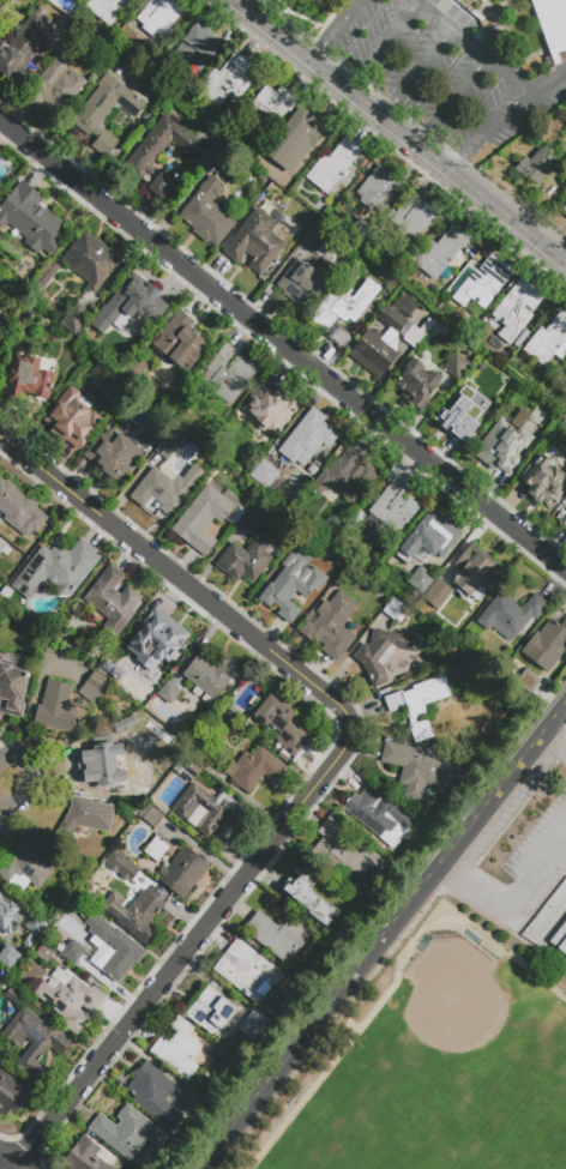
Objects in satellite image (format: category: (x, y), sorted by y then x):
building: (106, 8)
road: (347, 14)
building: (158, 16)
building: (552, 24)
road: (320, 42)
road: (472, 43)
road: (383, 44)
building: (199, 46)
building: (26, 48)
road: (415, 70)
parking lot: (444, 73)
building: (227, 80)
road: (543, 80)
building: (56, 82)
road: (452, 100)
building: (104, 110)
building: (265, 110)
road: (501, 115)
road: (405, 128)
building: (295, 139)
building: (215, 151)
building: (159, 153)
road: (465, 155)
building: (0, 158)
building: (537, 164)
building: (333, 165)
building: (564, 165)
building: (379, 188)
building: (564, 209)
building: (207, 215)
building: (415, 215)
building: (30, 218)
building: (360, 233)
building: (313, 240)
building: (254, 241)
building: (441, 254)
building: (91, 260)
building: (46, 275)
building: (483, 283)
building: (301, 284)
building: (128, 305)
building: (404, 305)
building: (343, 308)
building: (517, 308)
building: (4, 312)
building: (76, 319)
building: (525, 332)
building: (519, 341)
building: (549, 341)
building: (180, 342)
building: (386, 342)
road: (283, 348)
building: (454, 364)
building: (134, 370)
building: (227, 374)
building: (25, 380)
building: (415, 386)
building: (471, 402)
building: (271, 410)
building: (71, 418)
building: (564, 423)
building: (308, 438)
building: (505, 447)
building: (167, 450)
building: (114, 454)
building: (265, 474)
building: (347, 475)
road: (47, 477)
building: (543, 482)
building: (163, 488)
building: (395, 507)
building: (19, 510)
building: (207, 517)
building: (251, 520)
building: (564, 523)
building: (429, 537)
street lamp: (481, 538)
building: (2, 546)
building: (246, 559)
building: (58, 568)
building: (476, 571)
building: (421, 580)
building: (289, 586)
building: (436, 593)
building: (112, 601)
building: (393, 609)
building: (510, 615)
building: (332, 626)
building: (145, 645)
building: (547, 645)
building: (381, 655)
building: (210, 674)
building: (528, 680)
building: (12, 687)
building: (94, 688)
building: (169, 693)
building: (419, 703)
building: (55, 707)
road: (556, 716)
building: (283, 724)
road: (555, 740)
building: (115, 757)
building: (199, 758)
building: (419, 767)
building: (255, 769)
building: (192, 770)
building: (186, 777)
road: (31, 781)
street lamp: (8, 783)
road: (492, 797)
building: (207, 809)
building: (86, 817)
building: (153, 818)
road: (293, 818)
building: (380, 818)
parking lot: (519, 848)
building: (156, 849)
building: (357, 856)
street lamp: (565, 857)
building: (25, 863)
building: (182, 872)
building: (131, 873)
road: (457, 879)
road: (525, 885)
building: (309, 898)
building: (134, 914)
building: (8, 917)
street lamp: (517, 917)
building: (36, 926)
building: (71, 929)
park: (359, 934)
building: (278, 935)
street lamp: (363, 939)
building: (560, 939)
building: (29, 941)
road: (403, 944)
building: (115, 947)
building: (71, 951)
building: (44, 953)
building: (8, 957)
building: (247, 970)
road: (395, 984)
building: (12, 996)
building: (71, 1000)
building: (210, 1010)
park: (454, 1010)
road: (318, 1018)
building: (254, 1025)
building: (35, 1040)
street lamp: (281, 1044)
building: (181, 1049)
building: (11, 1093)
building: (155, 1095)
building: (194, 1099)
building: (127, 1132)
street lamp: (203, 1144)
building: (85, 1157)
road: (6, 1163)

